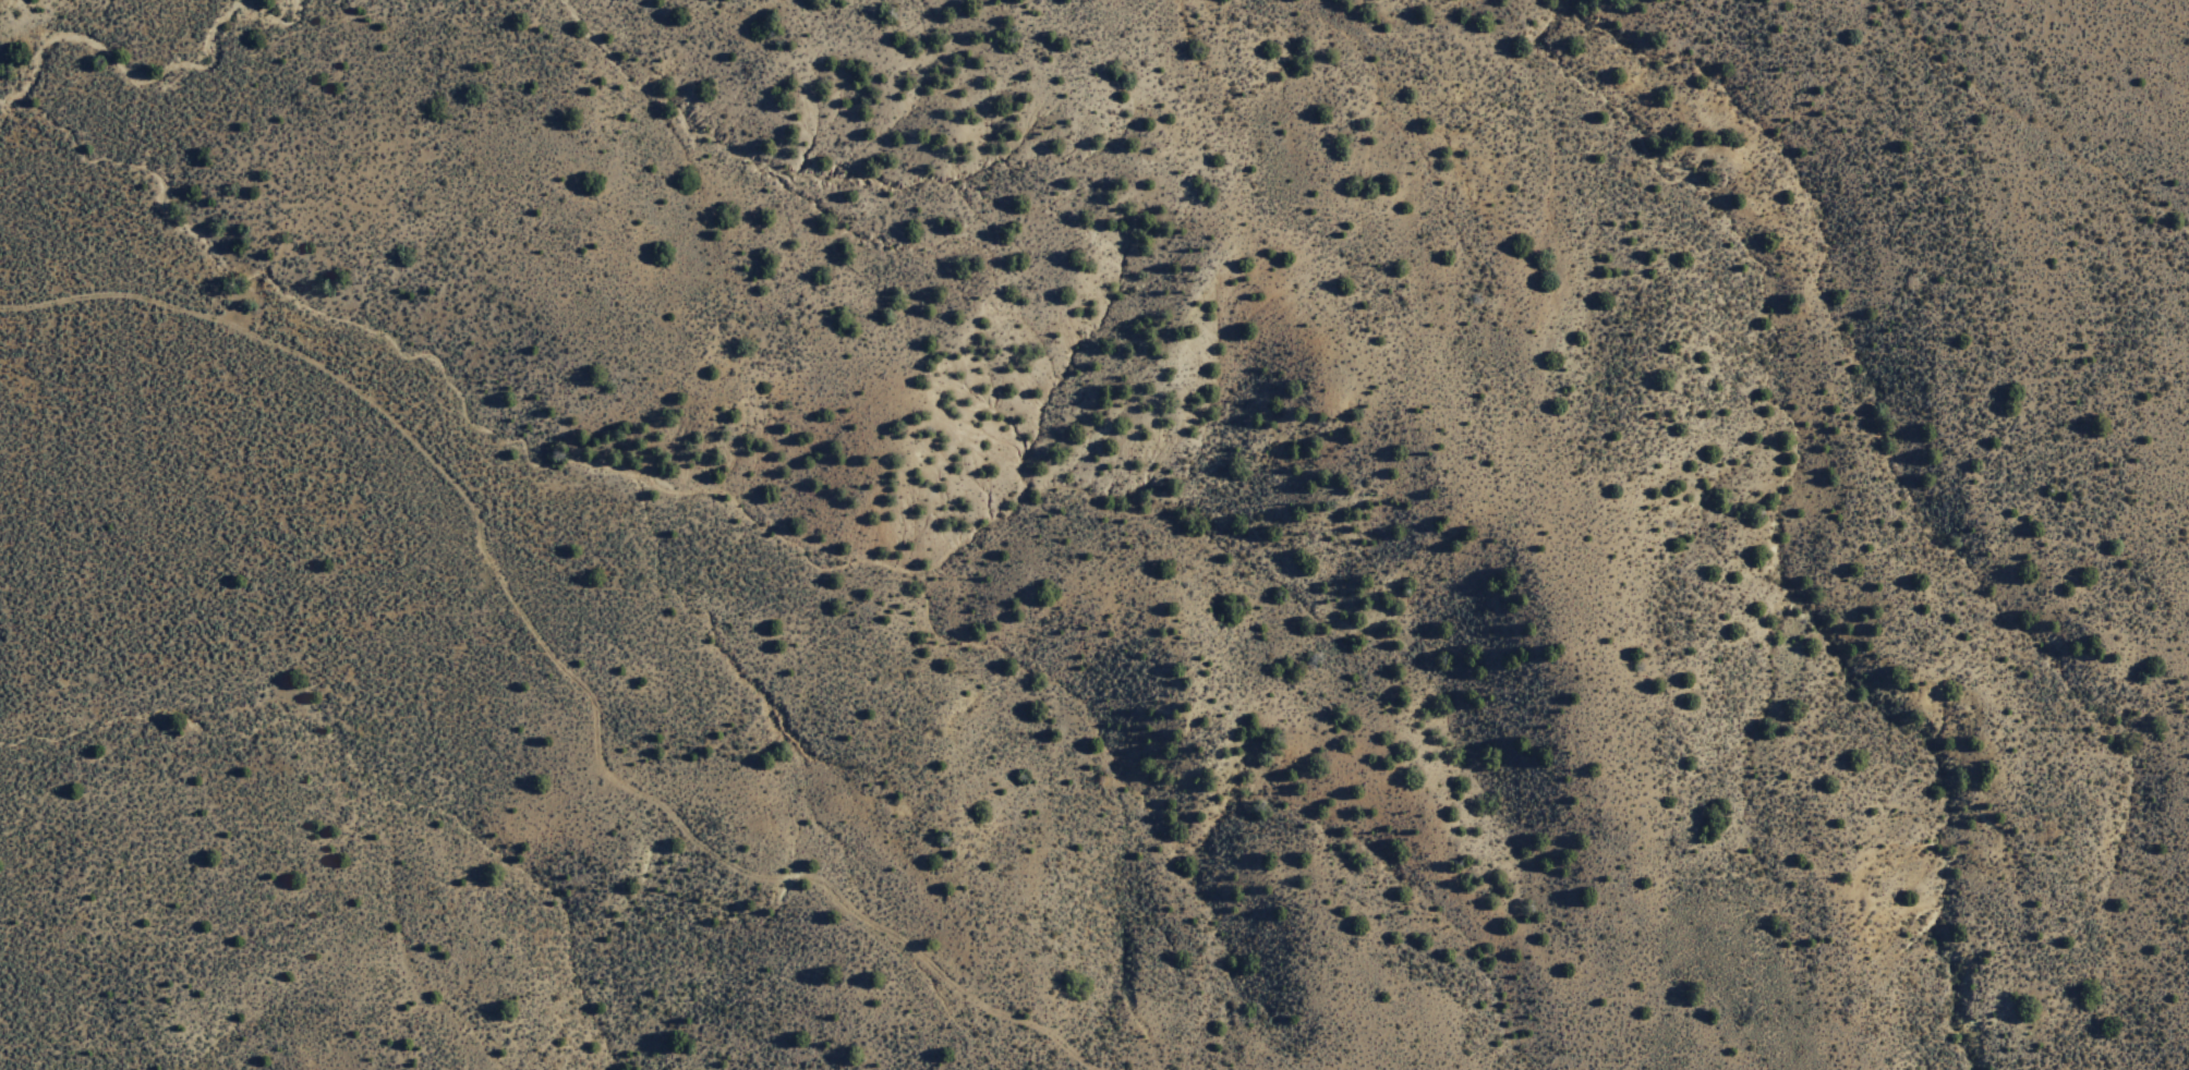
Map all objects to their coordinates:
road: (539, 627)

